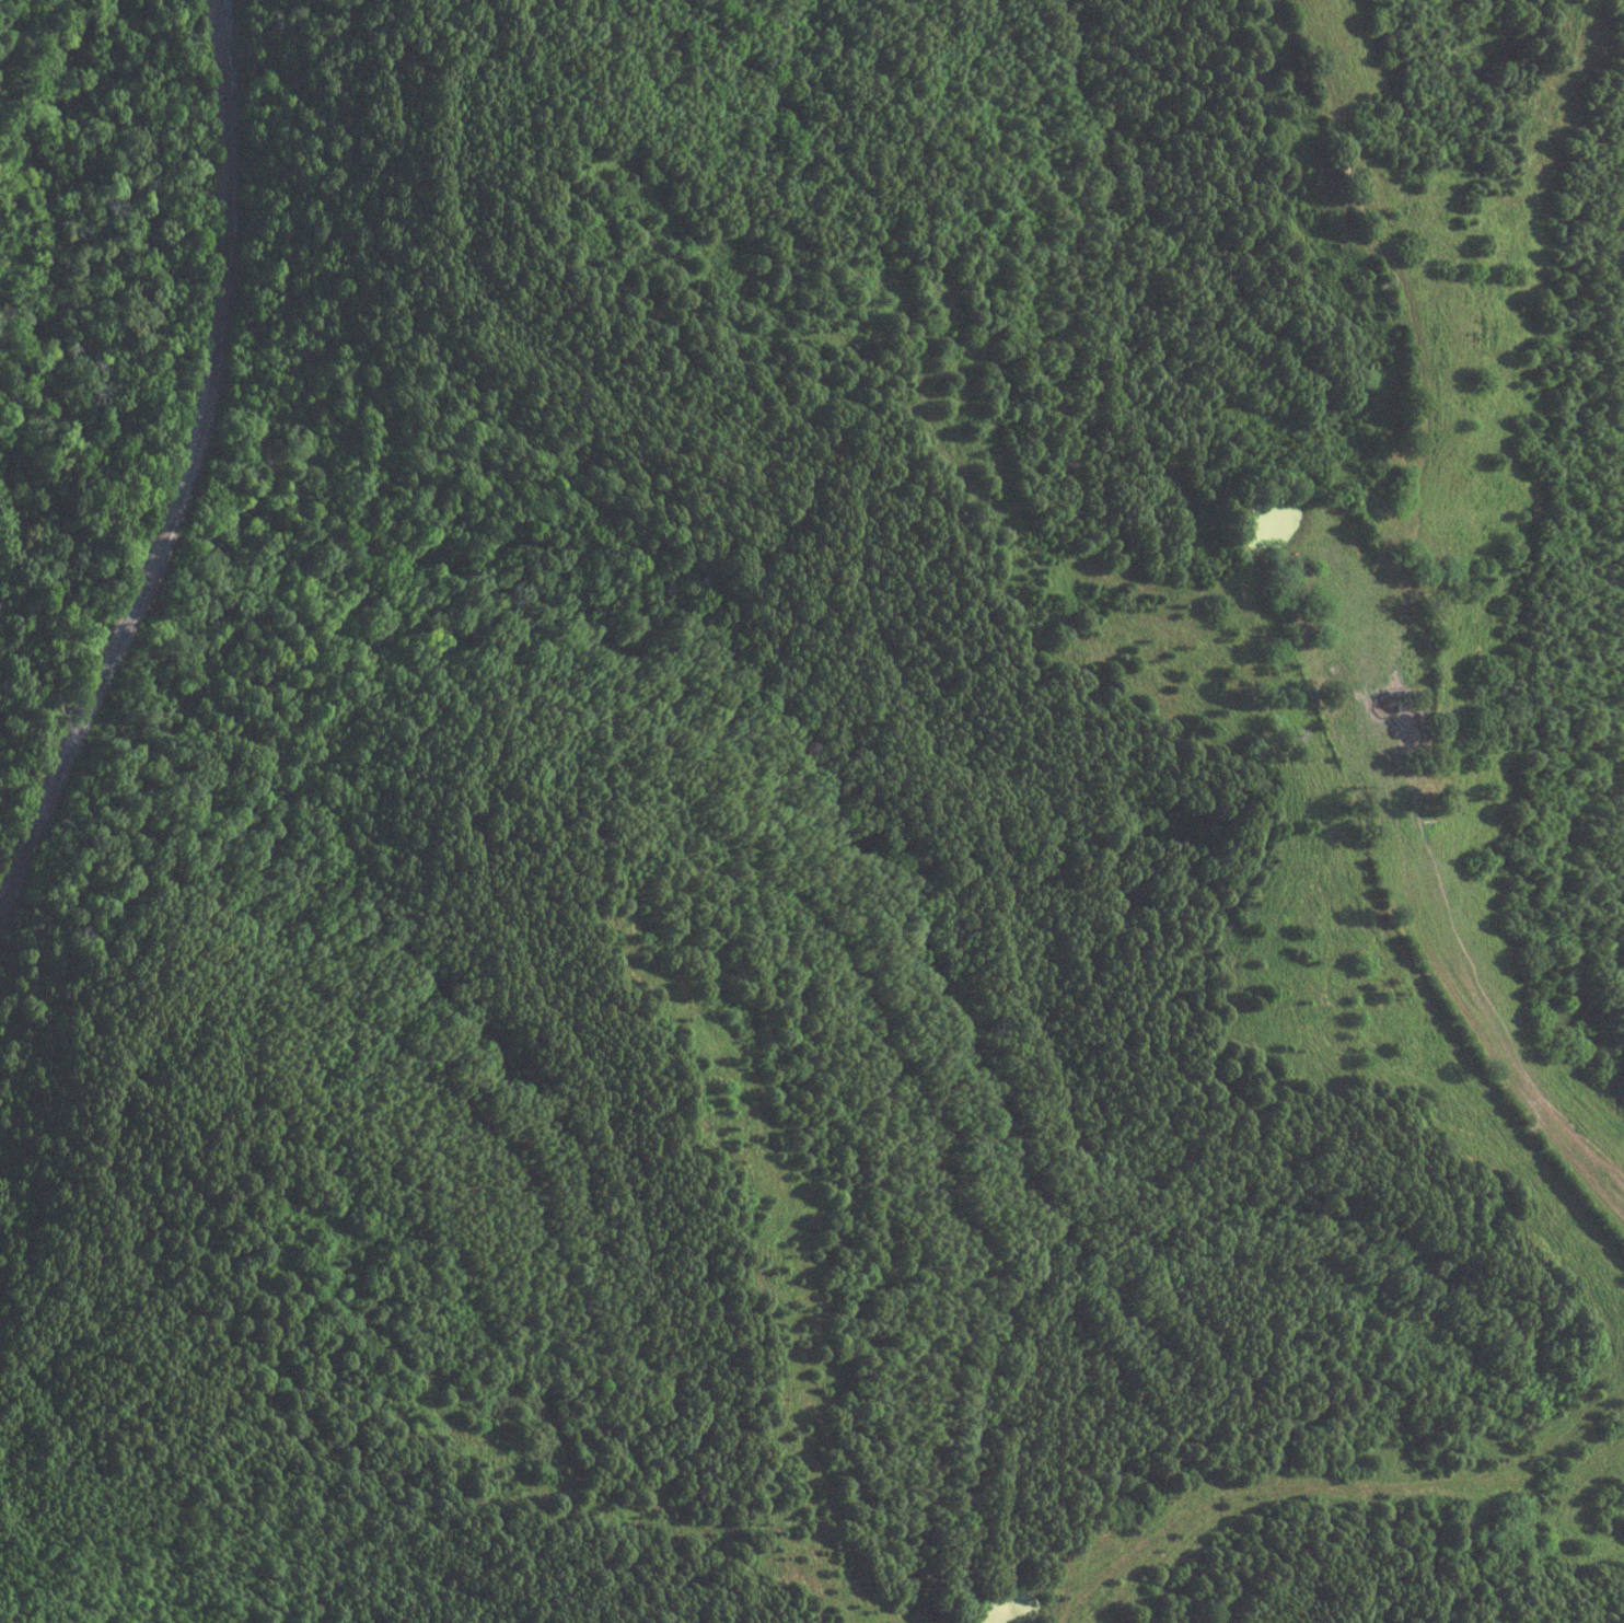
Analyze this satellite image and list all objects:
railway: (165, 428)

